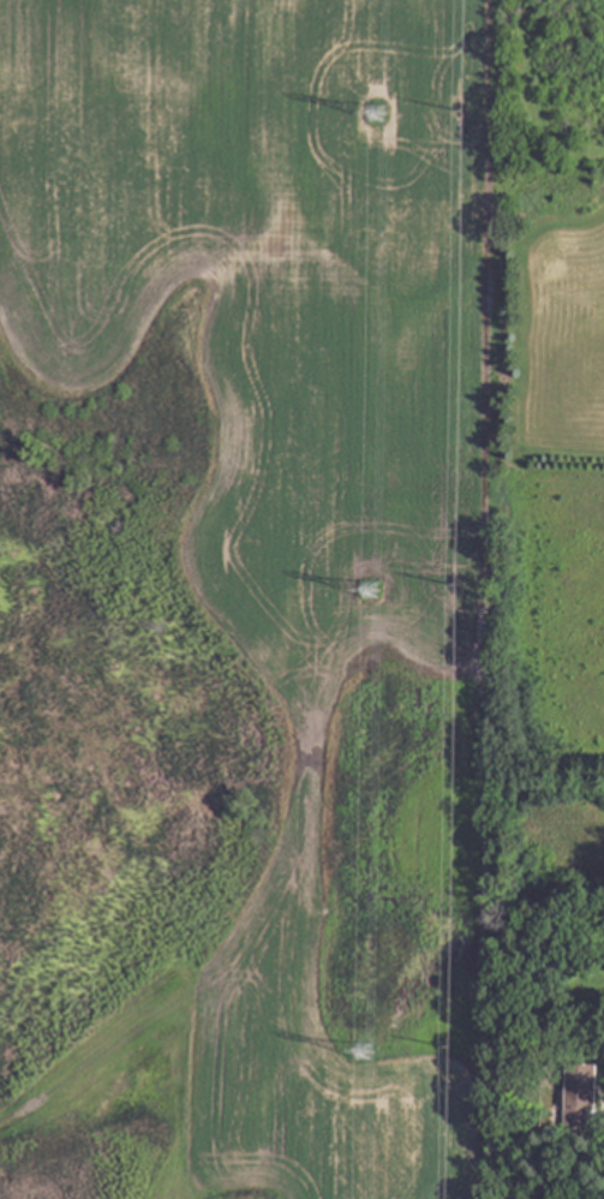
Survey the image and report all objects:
power tower: (373, 112)
crop: (546, 350)
crop: (281, 446)
power tower: (370, 581)
building: (504, 1018)
road: (109, 1044)
power tower: (359, 1054)
building: (579, 1093)

